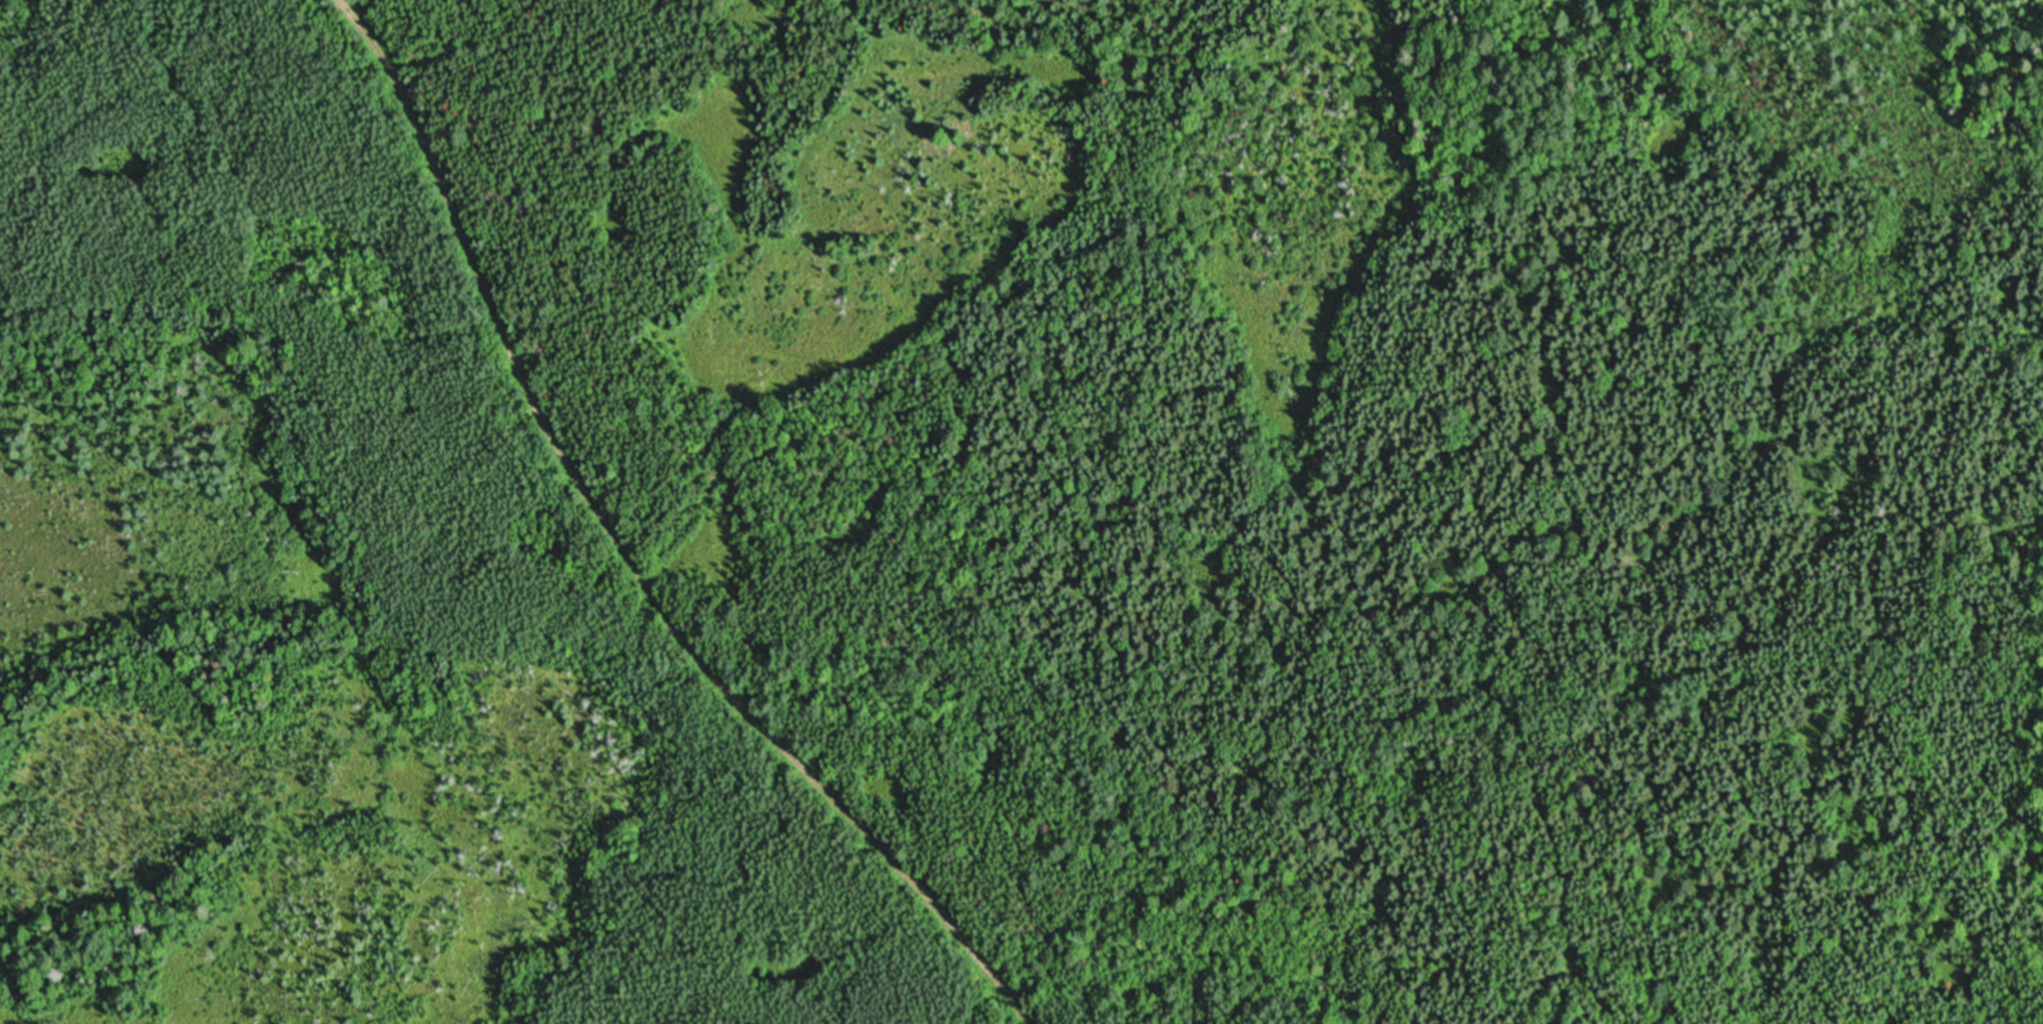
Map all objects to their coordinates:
road: (621, 550)

